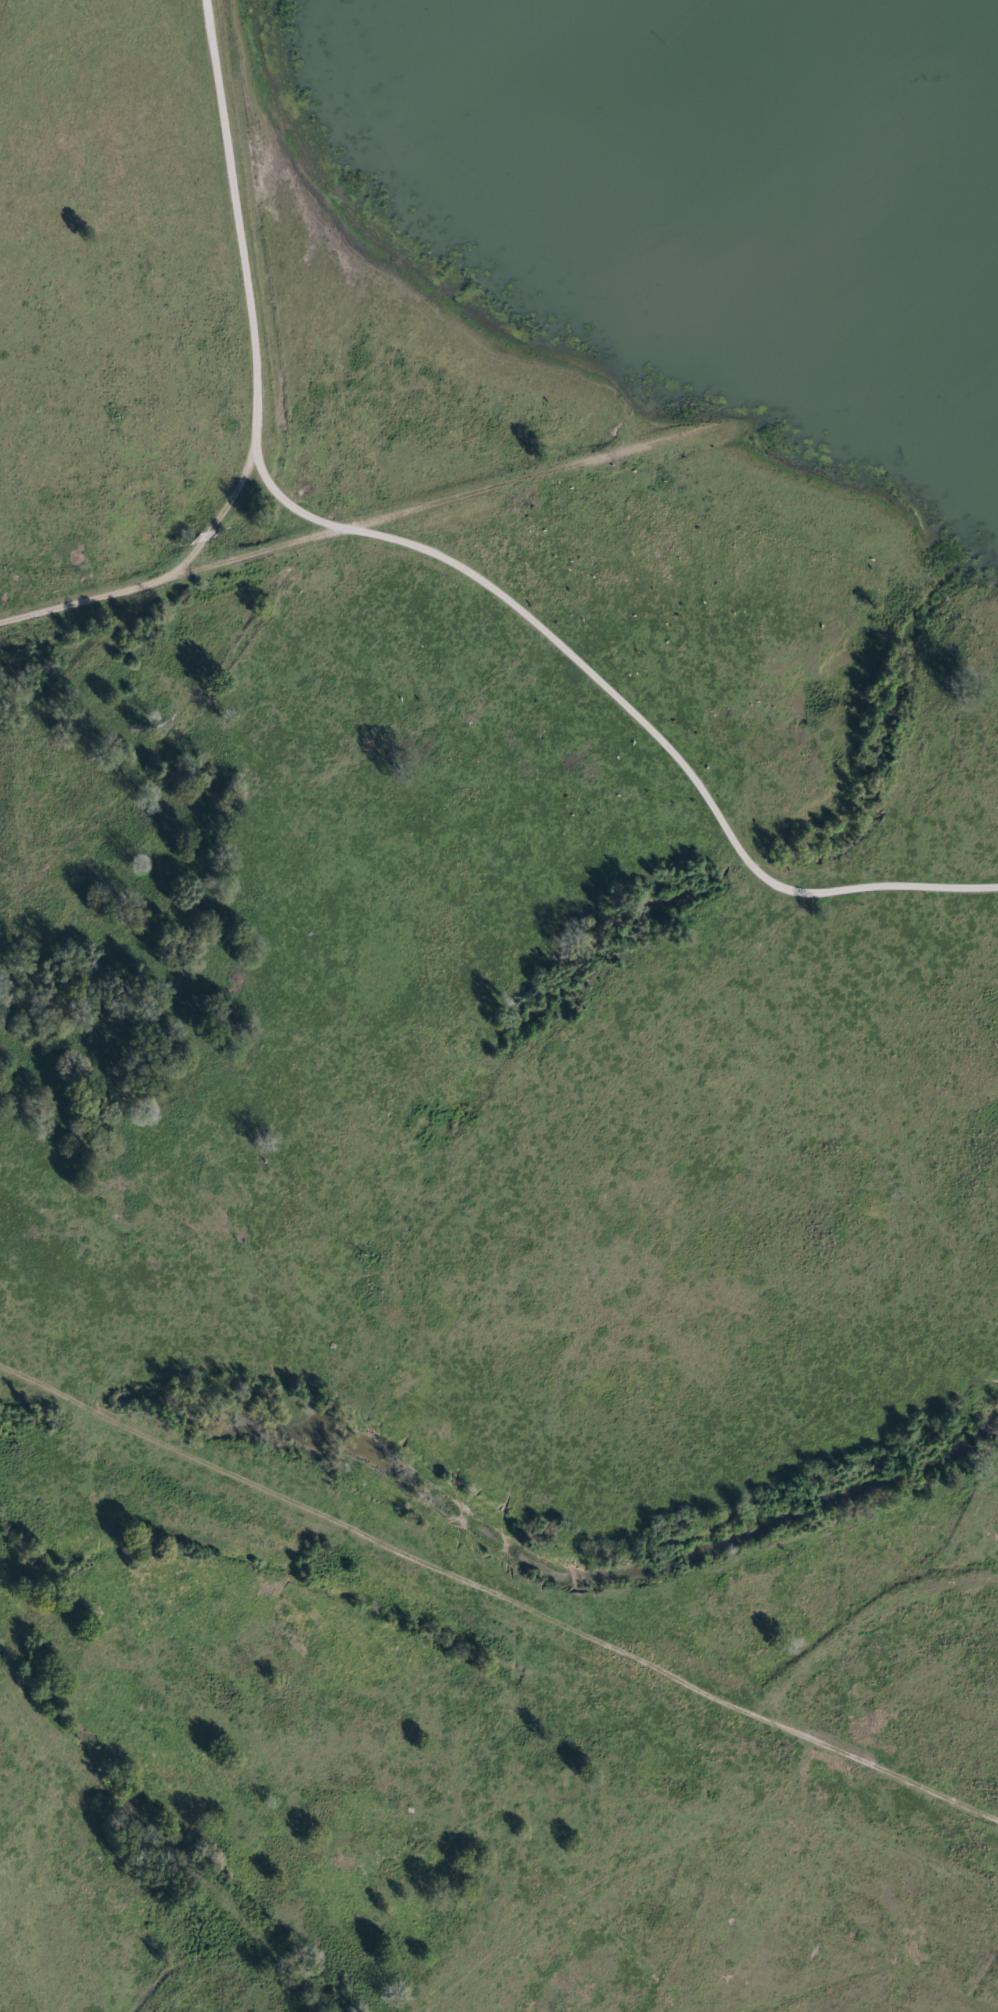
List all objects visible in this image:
road: (251, 383)

